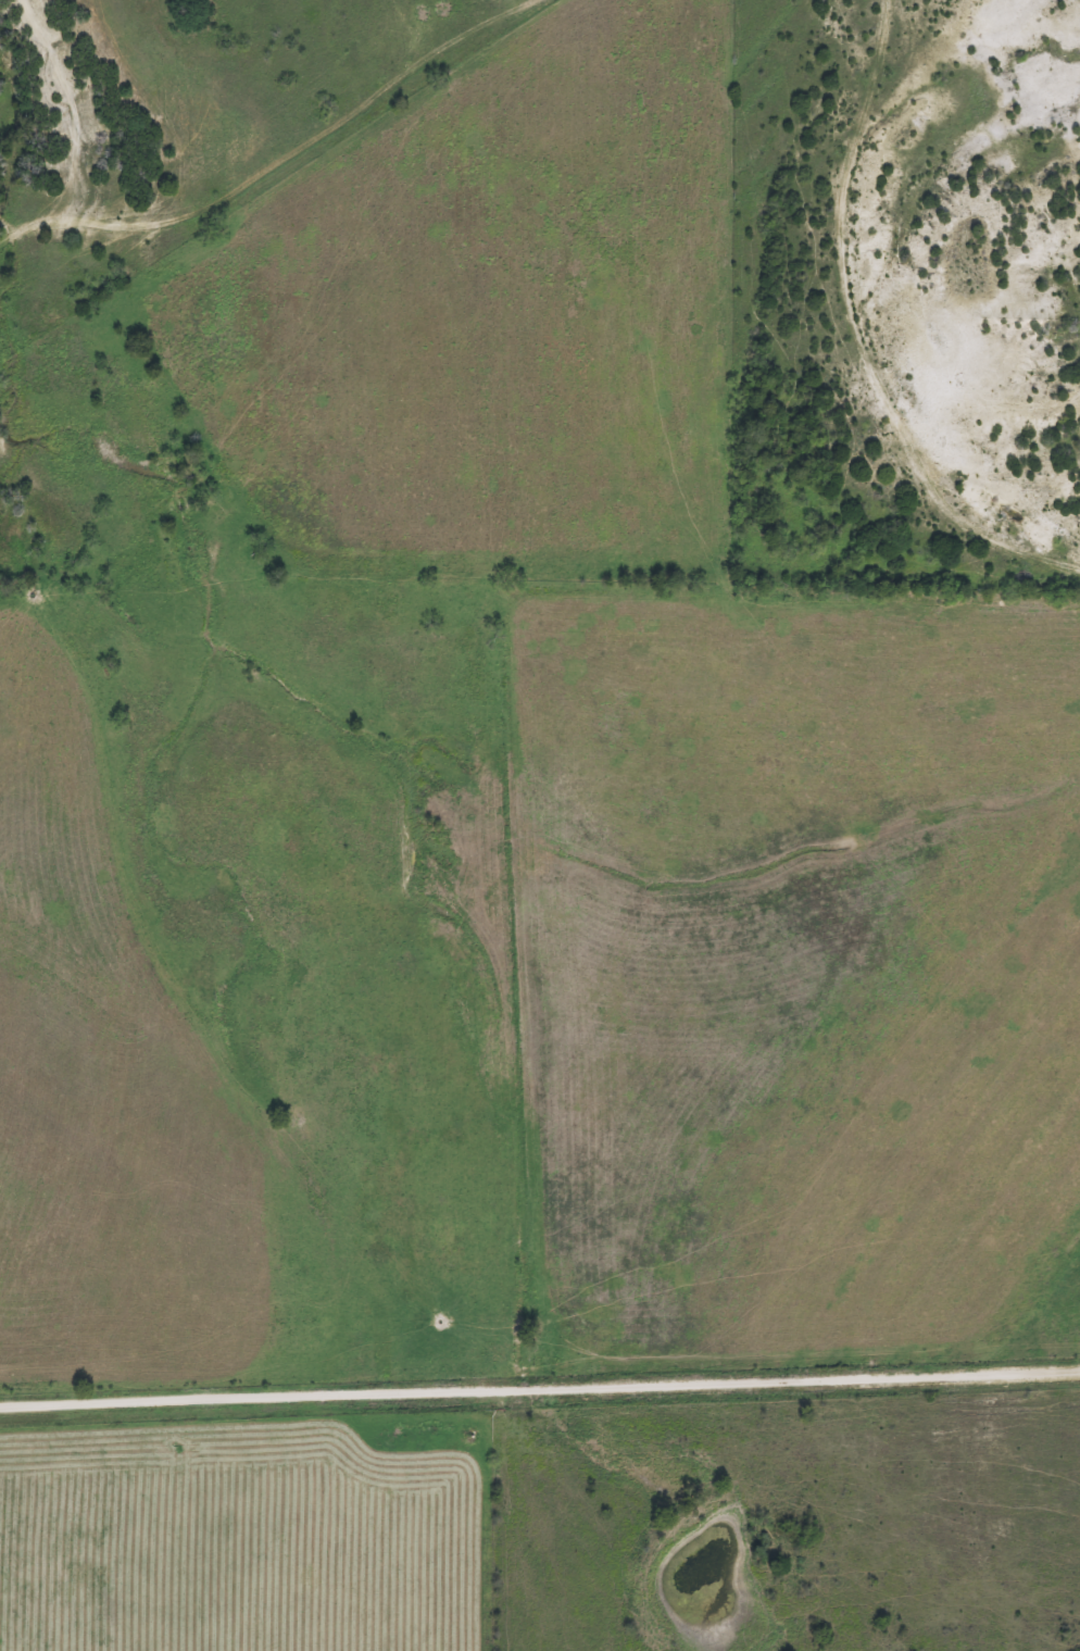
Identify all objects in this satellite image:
road: (540, 1391)

